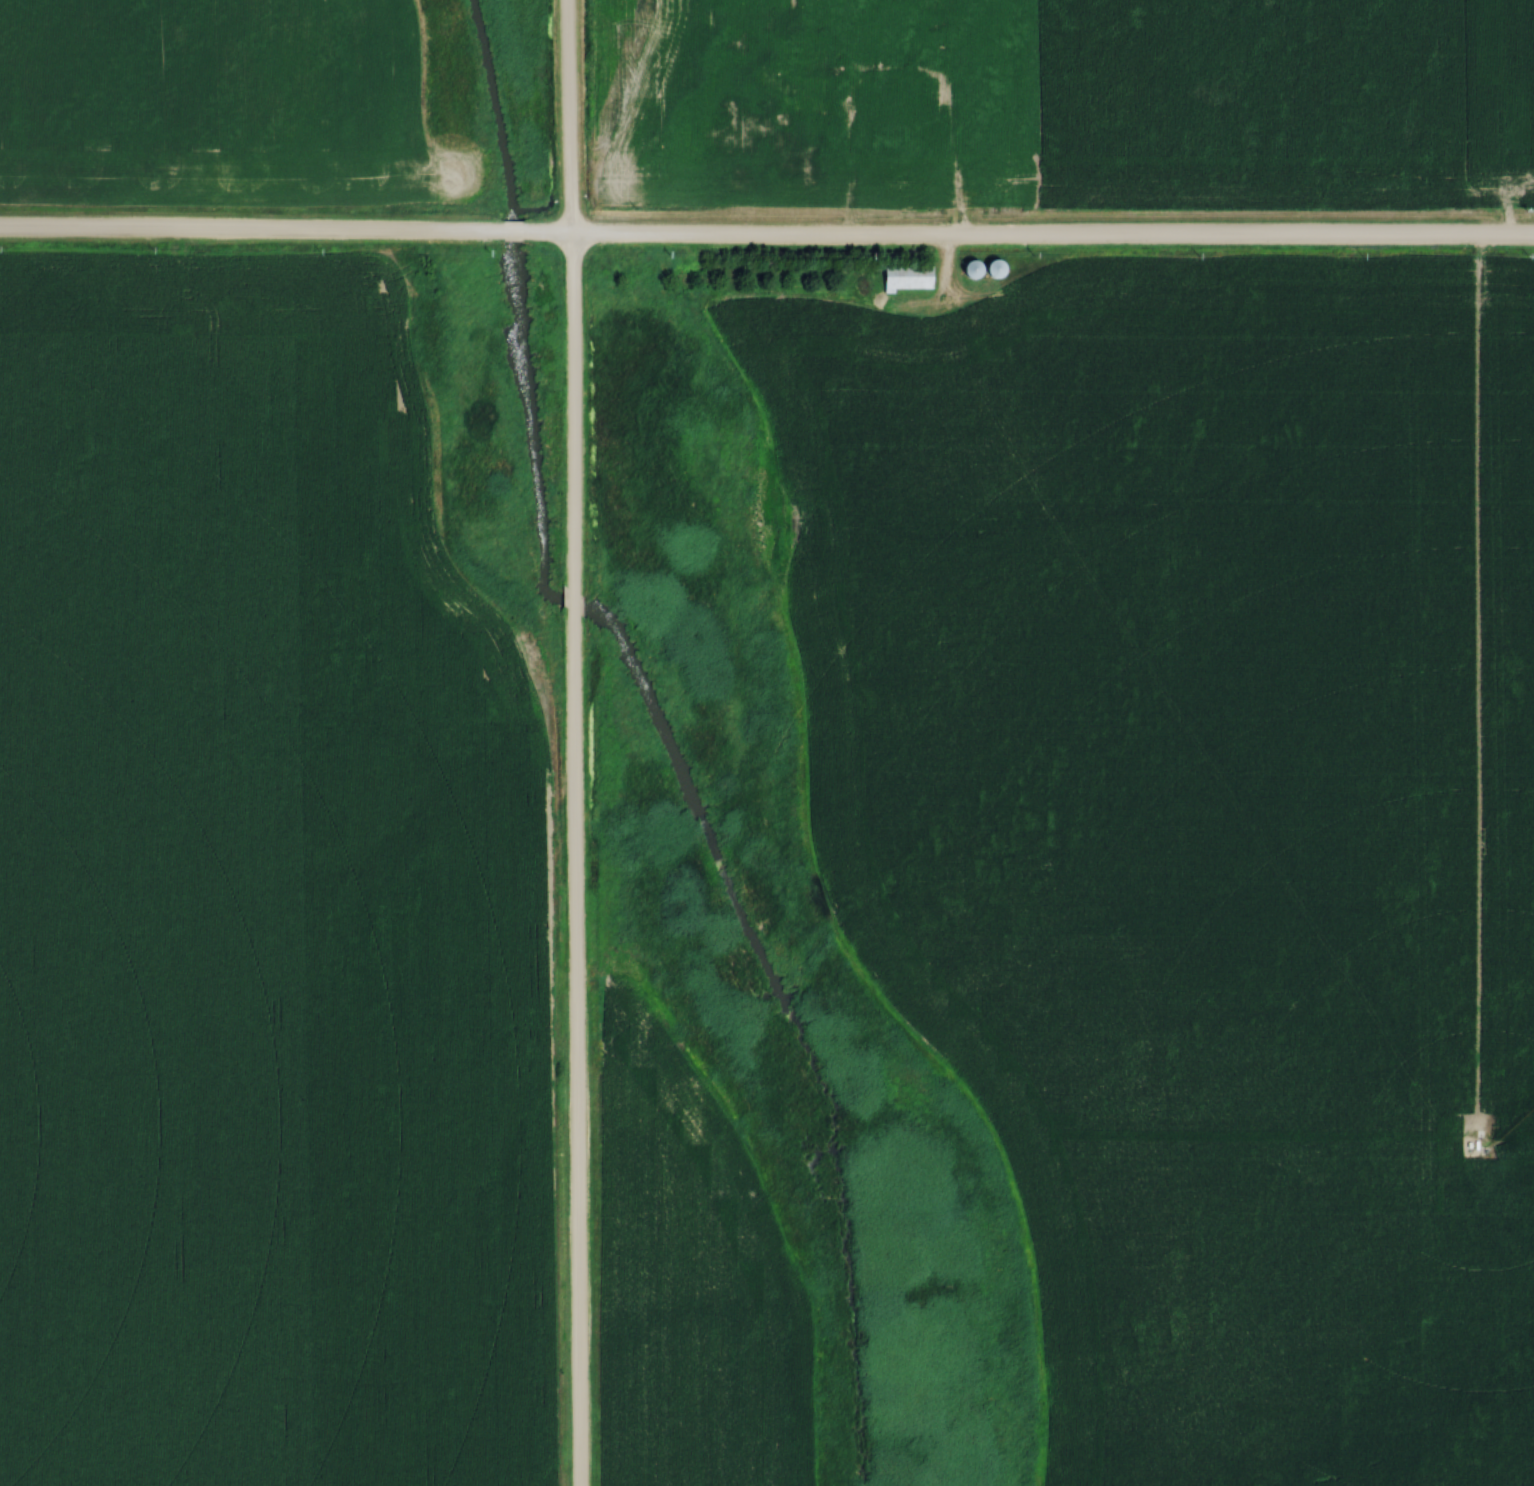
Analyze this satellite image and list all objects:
building: (791, 58)
road: (896, 69)
building: (915, 84)
building: (919, 101)
building: (790, 119)
road: (766, 237)
building: (910, 278)
road: (574, 742)

